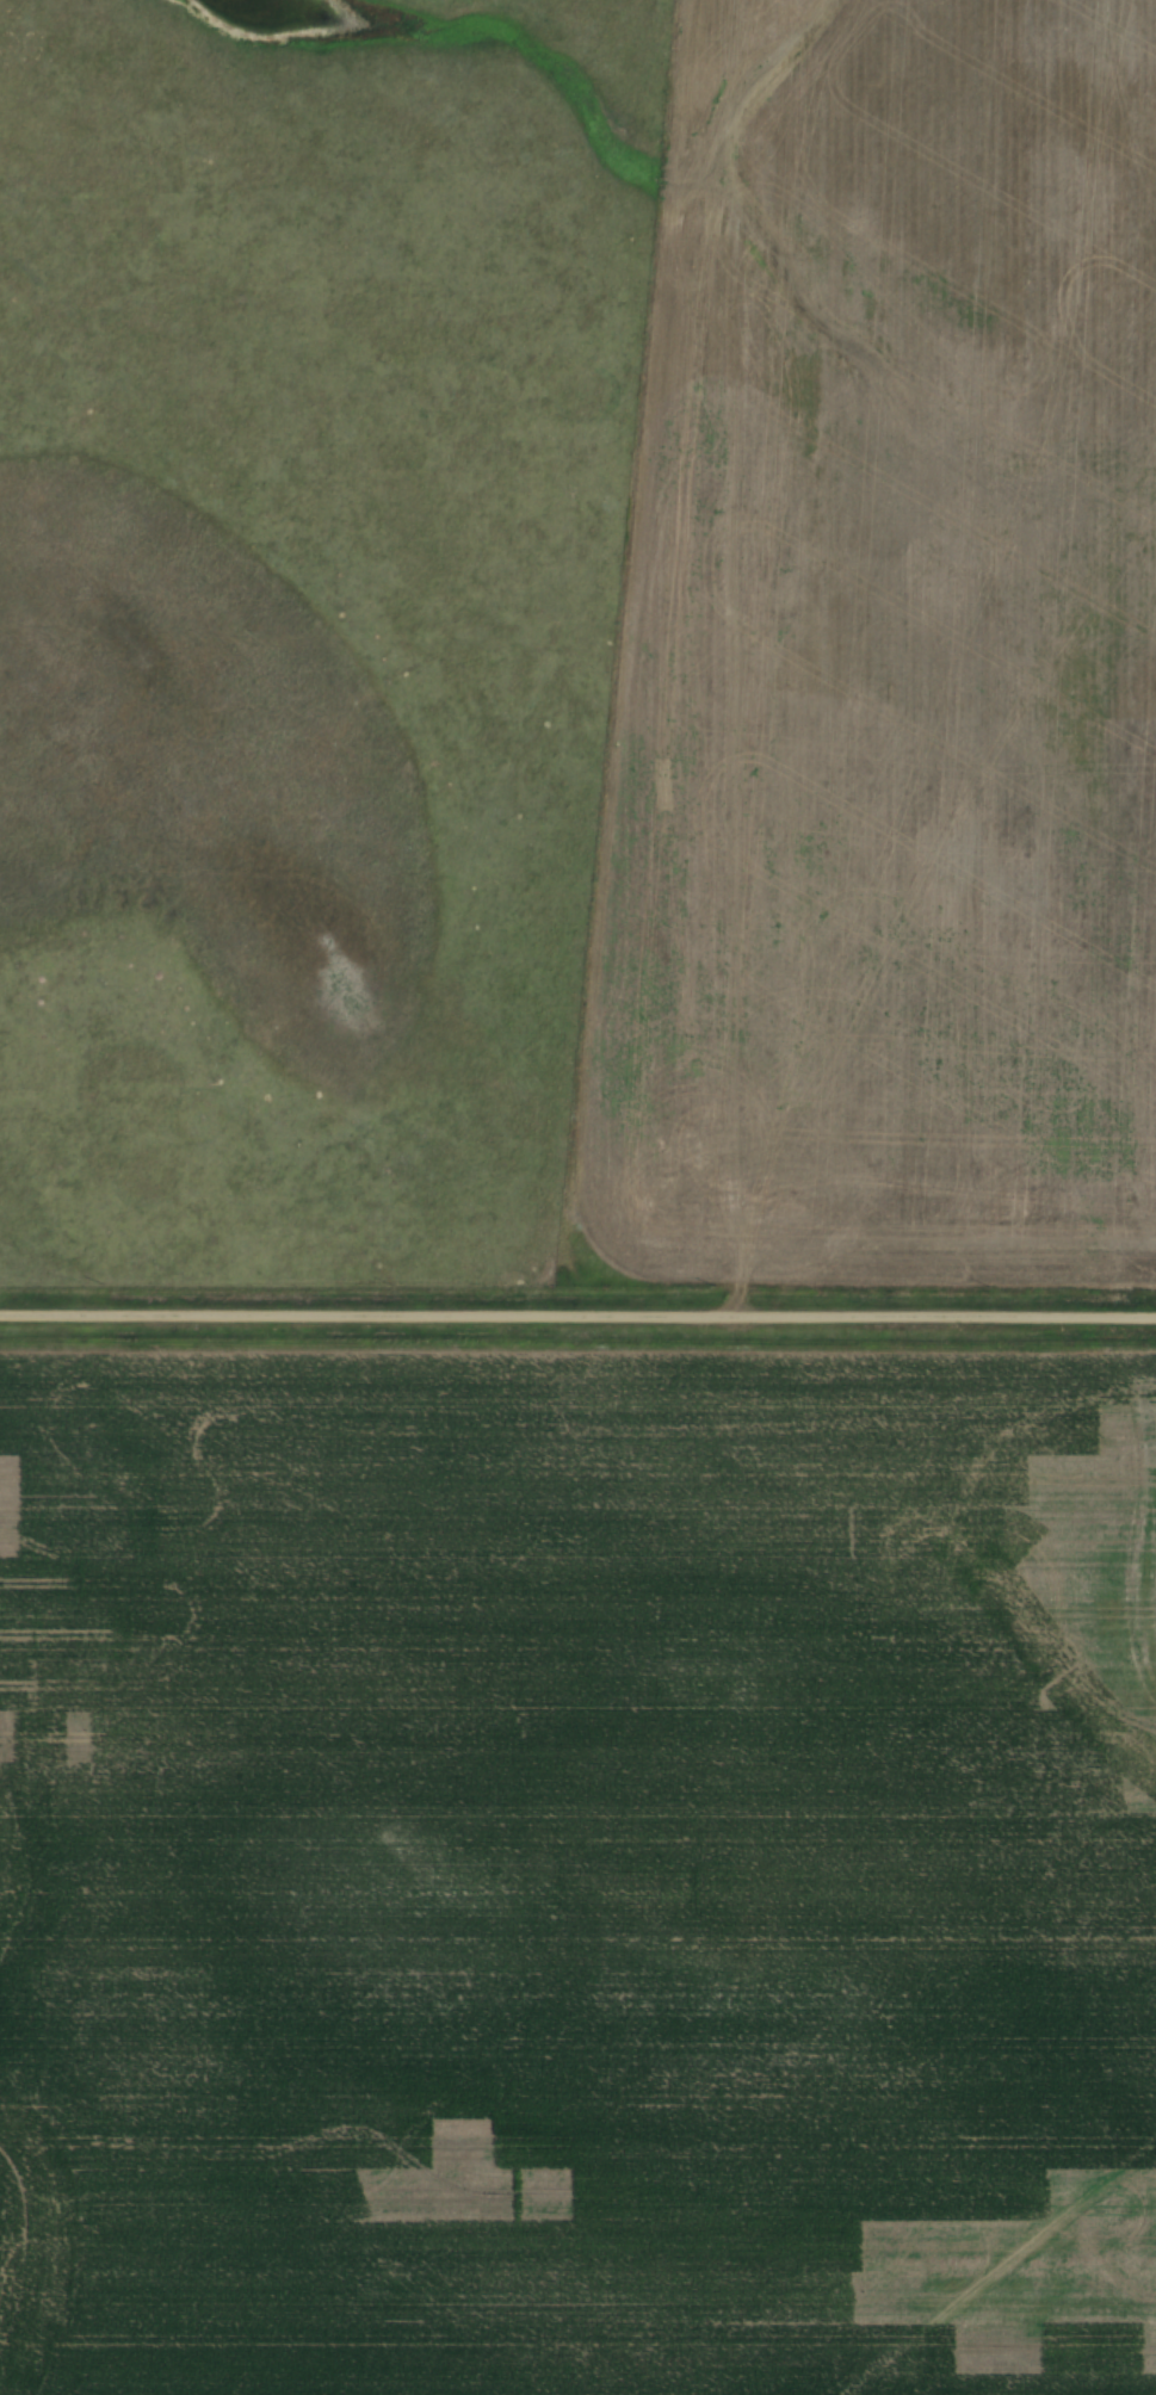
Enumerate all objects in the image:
road: (577, 1360)

